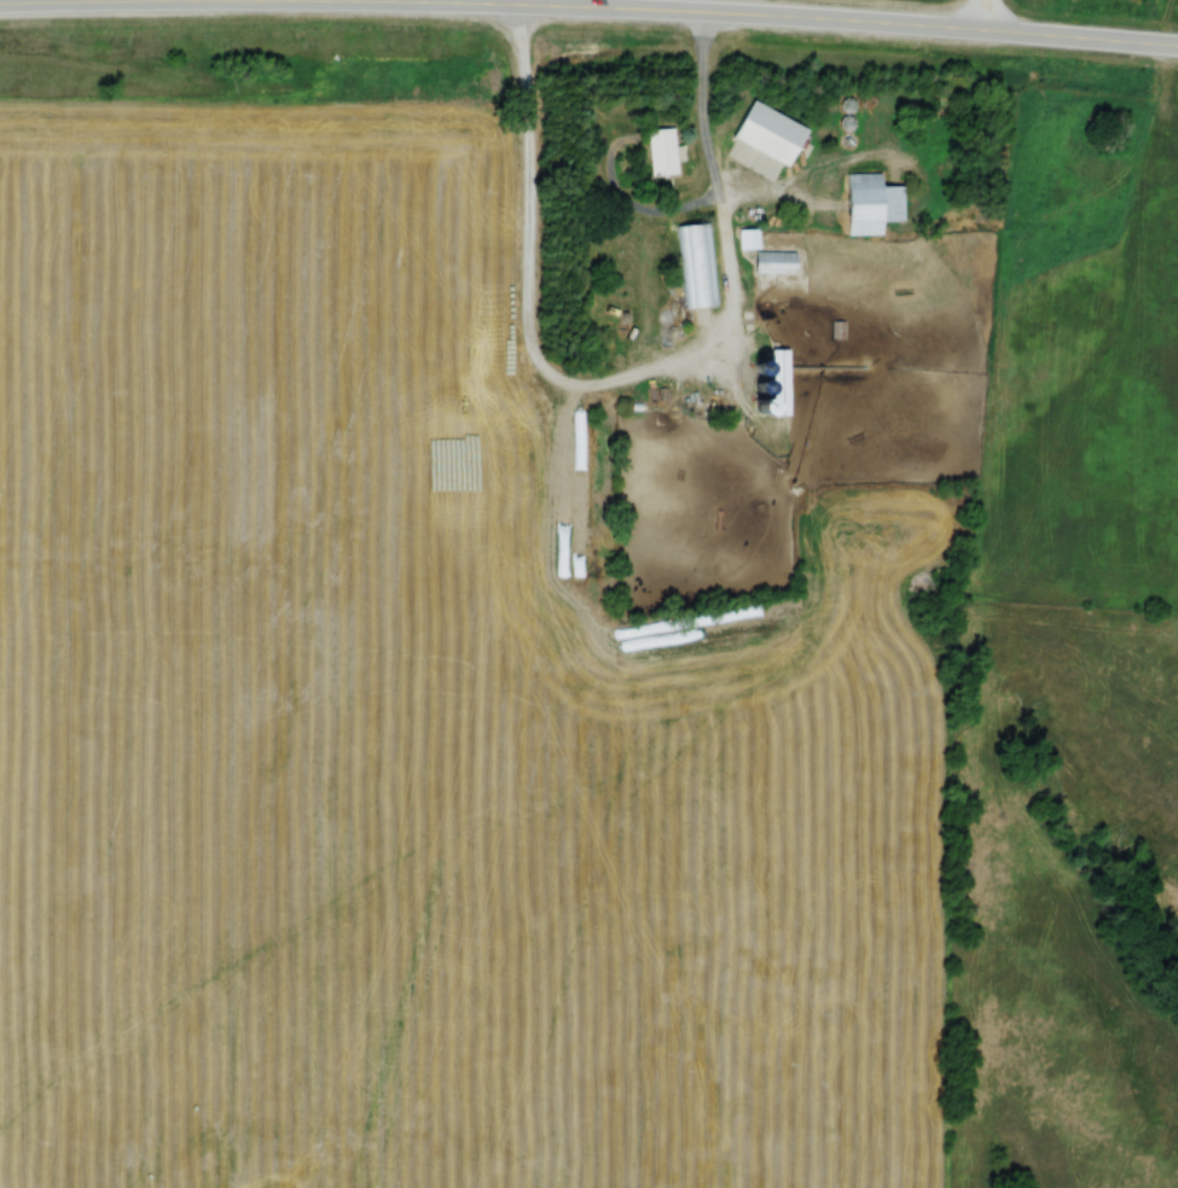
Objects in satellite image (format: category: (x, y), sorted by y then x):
road: (126, 2)
road: (569, 5)
road: (983, 18)
road: (773, 22)
building: (771, 132)
building: (660, 155)
building: (866, 200)
building: (777, 261)
building: (696, 264)
road: (617, 385)
building: (778, 385)
building: (574, 496)

